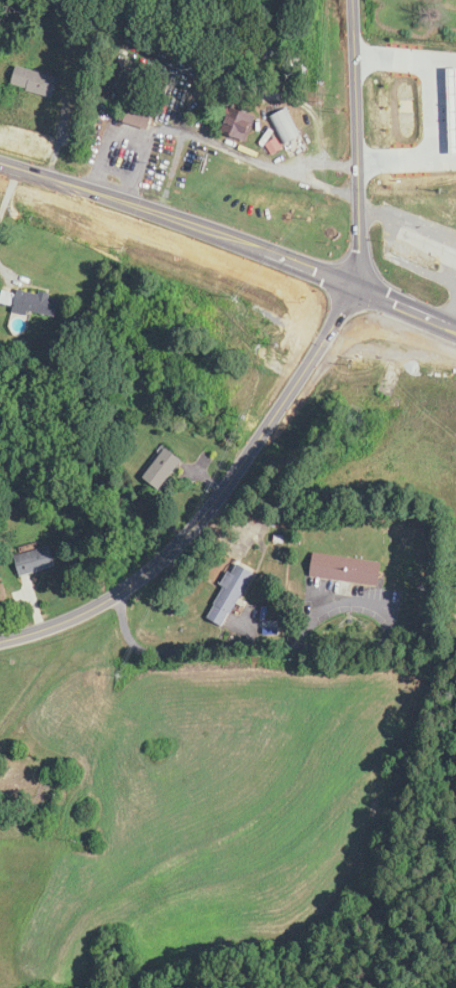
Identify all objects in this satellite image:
building: (440, 0)
building: (40, 82)
building: (419, 88)
building: (143, 108)
building: (243, 122)
building: (288, 127)
building: (417, 133)
road: (130, 135)
road: (356, 142)
road: (247, 156)
building: (410, 161)
road: (435, 172)
road: (9, 190)
road: (230, 239)
building: (428, 247)
road: (6, 271)
building: (31, 303)
building: (213, 321)
building: (165, 468)
road: (213, 503)
building: (37, 561)
building: (348, 569)
building: (231, 594)

